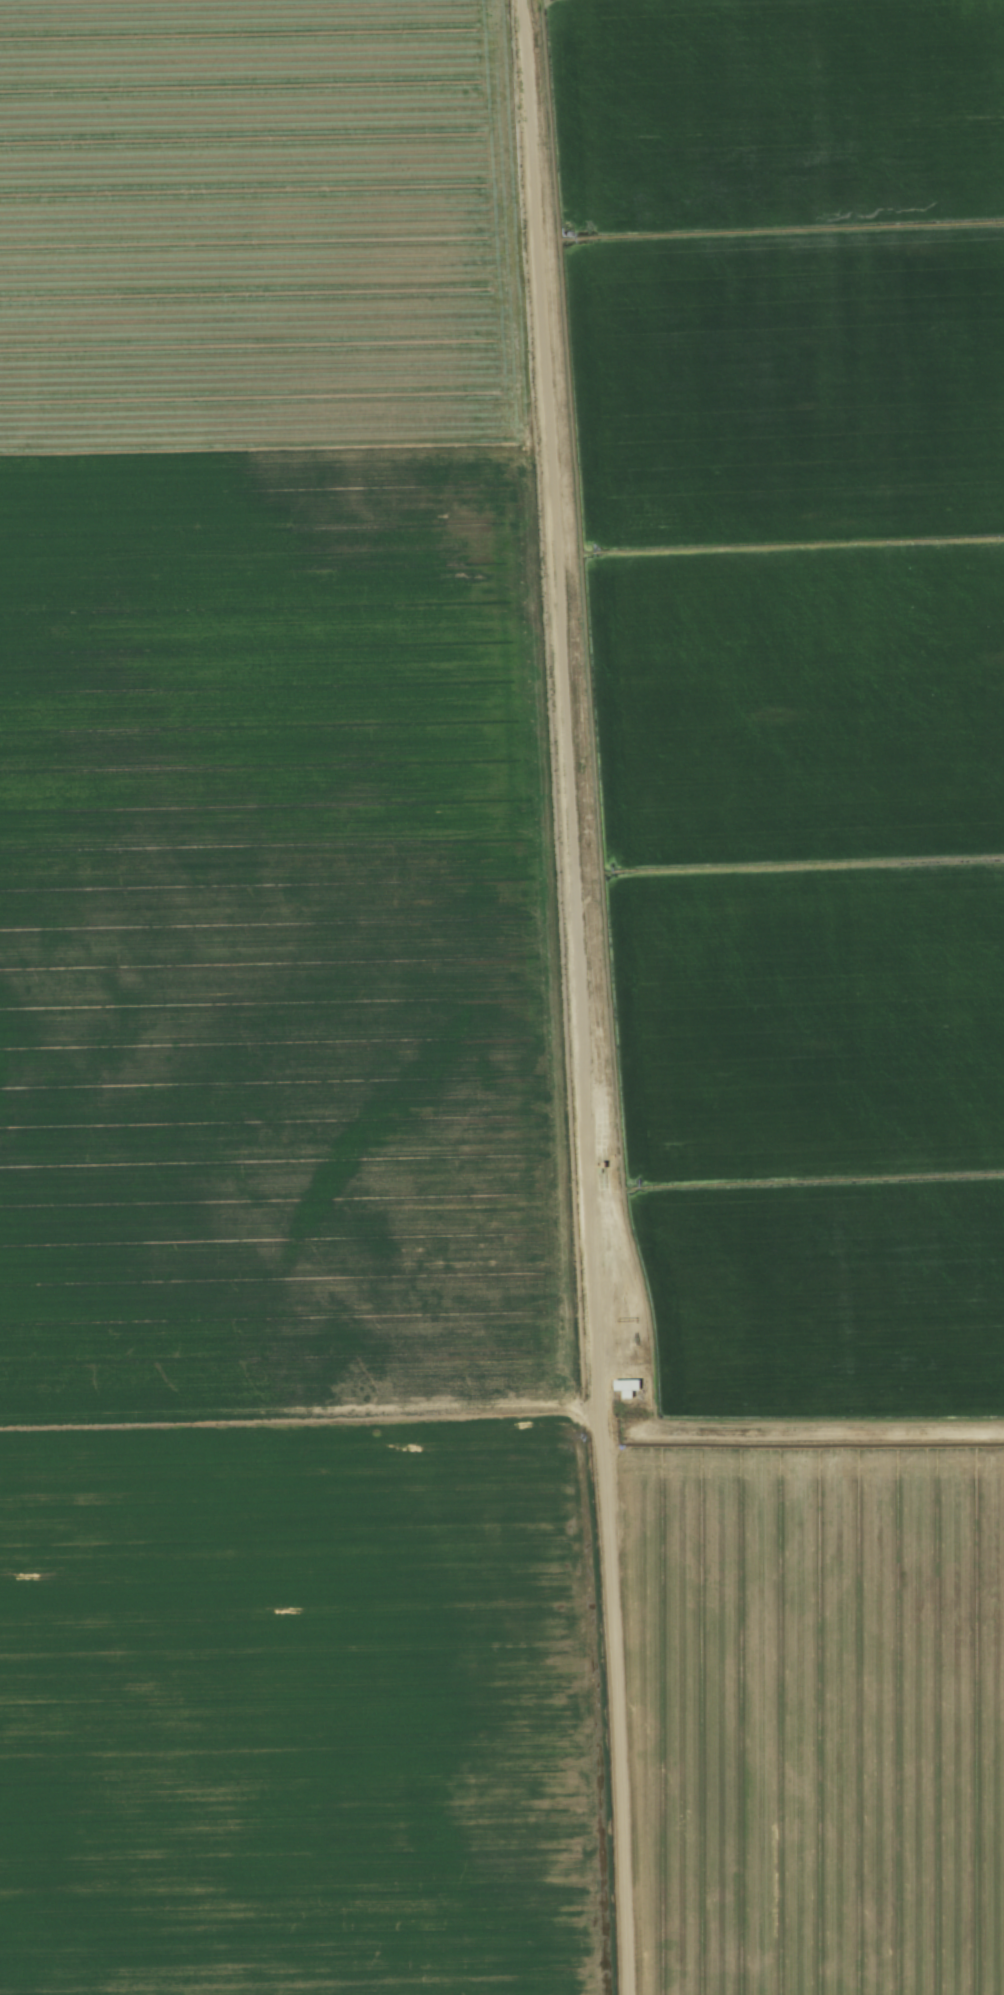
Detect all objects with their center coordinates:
airport runway: (556, 711)
airport hangar: (625, 1386)
building: (625, 1386)
road: (611, 1708)

